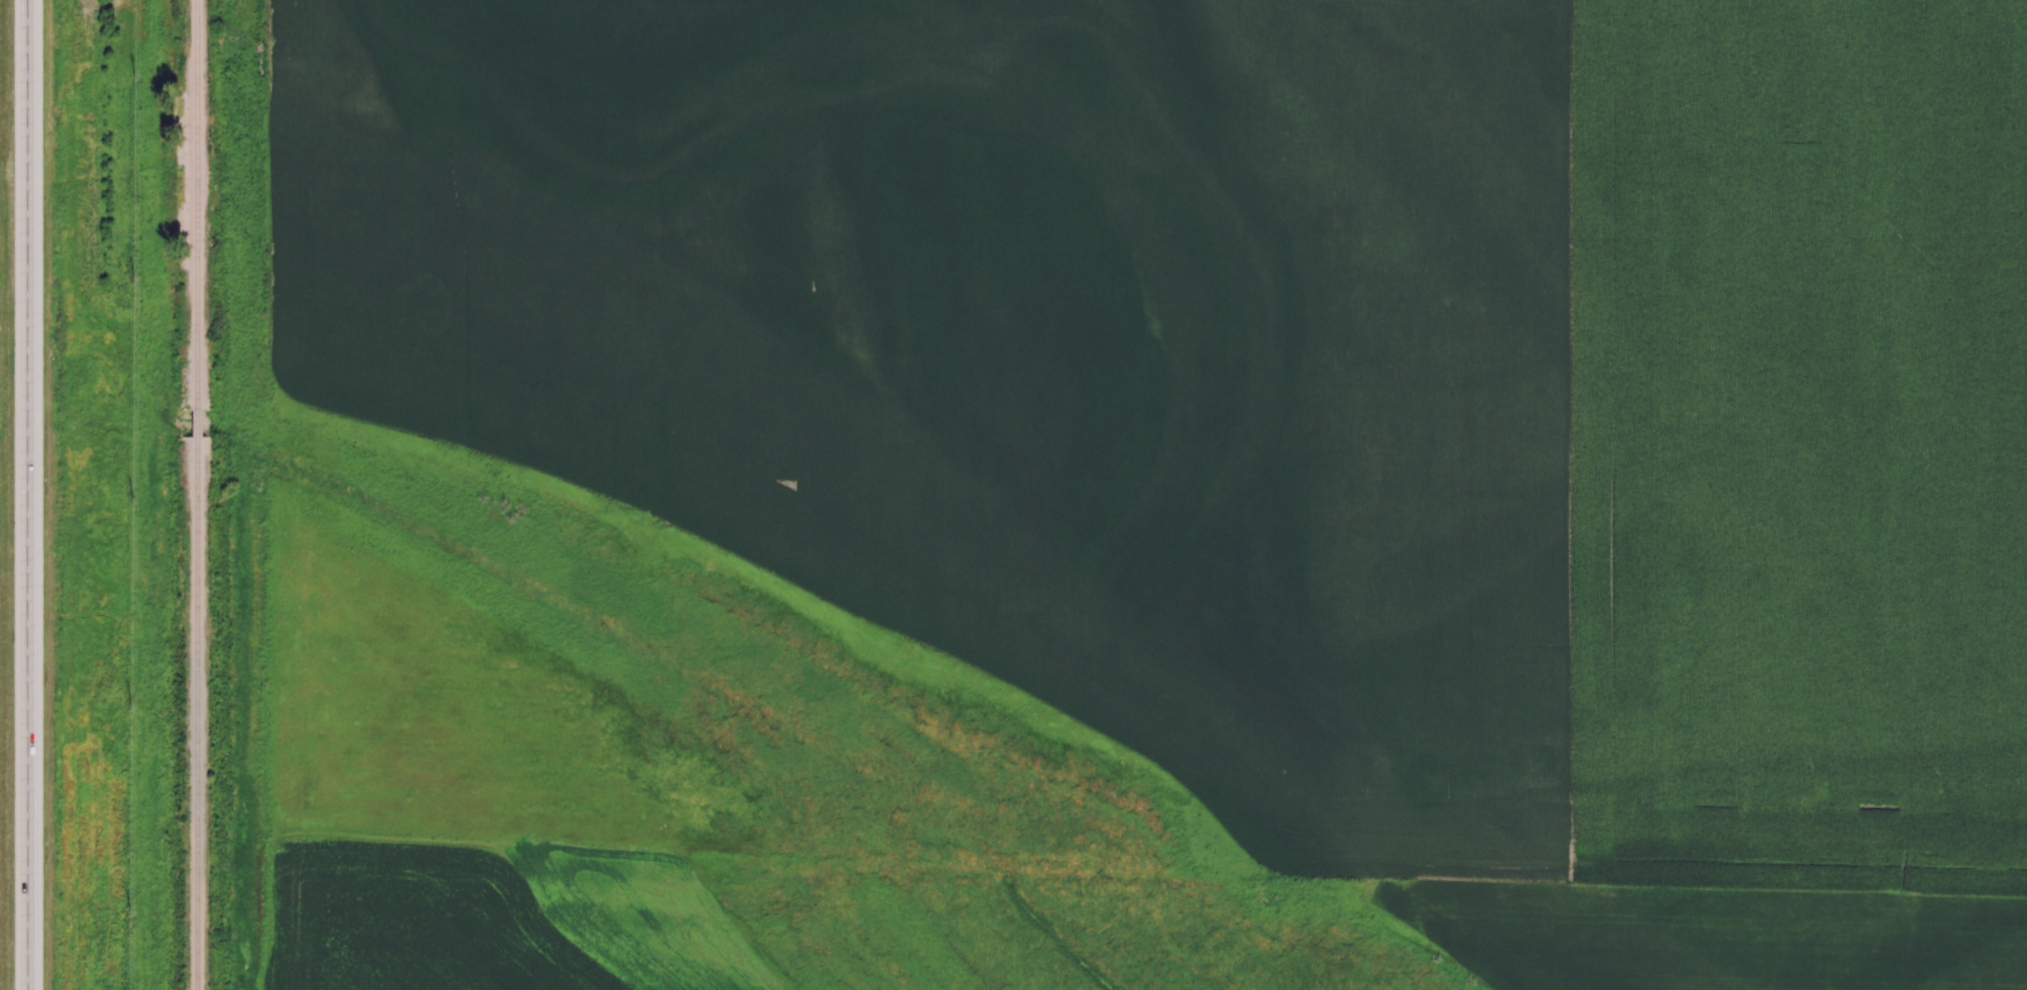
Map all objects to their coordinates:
railway: (198, 203)
railway: (198, 422)
road: (27, 495)
railway: (197, 713)

